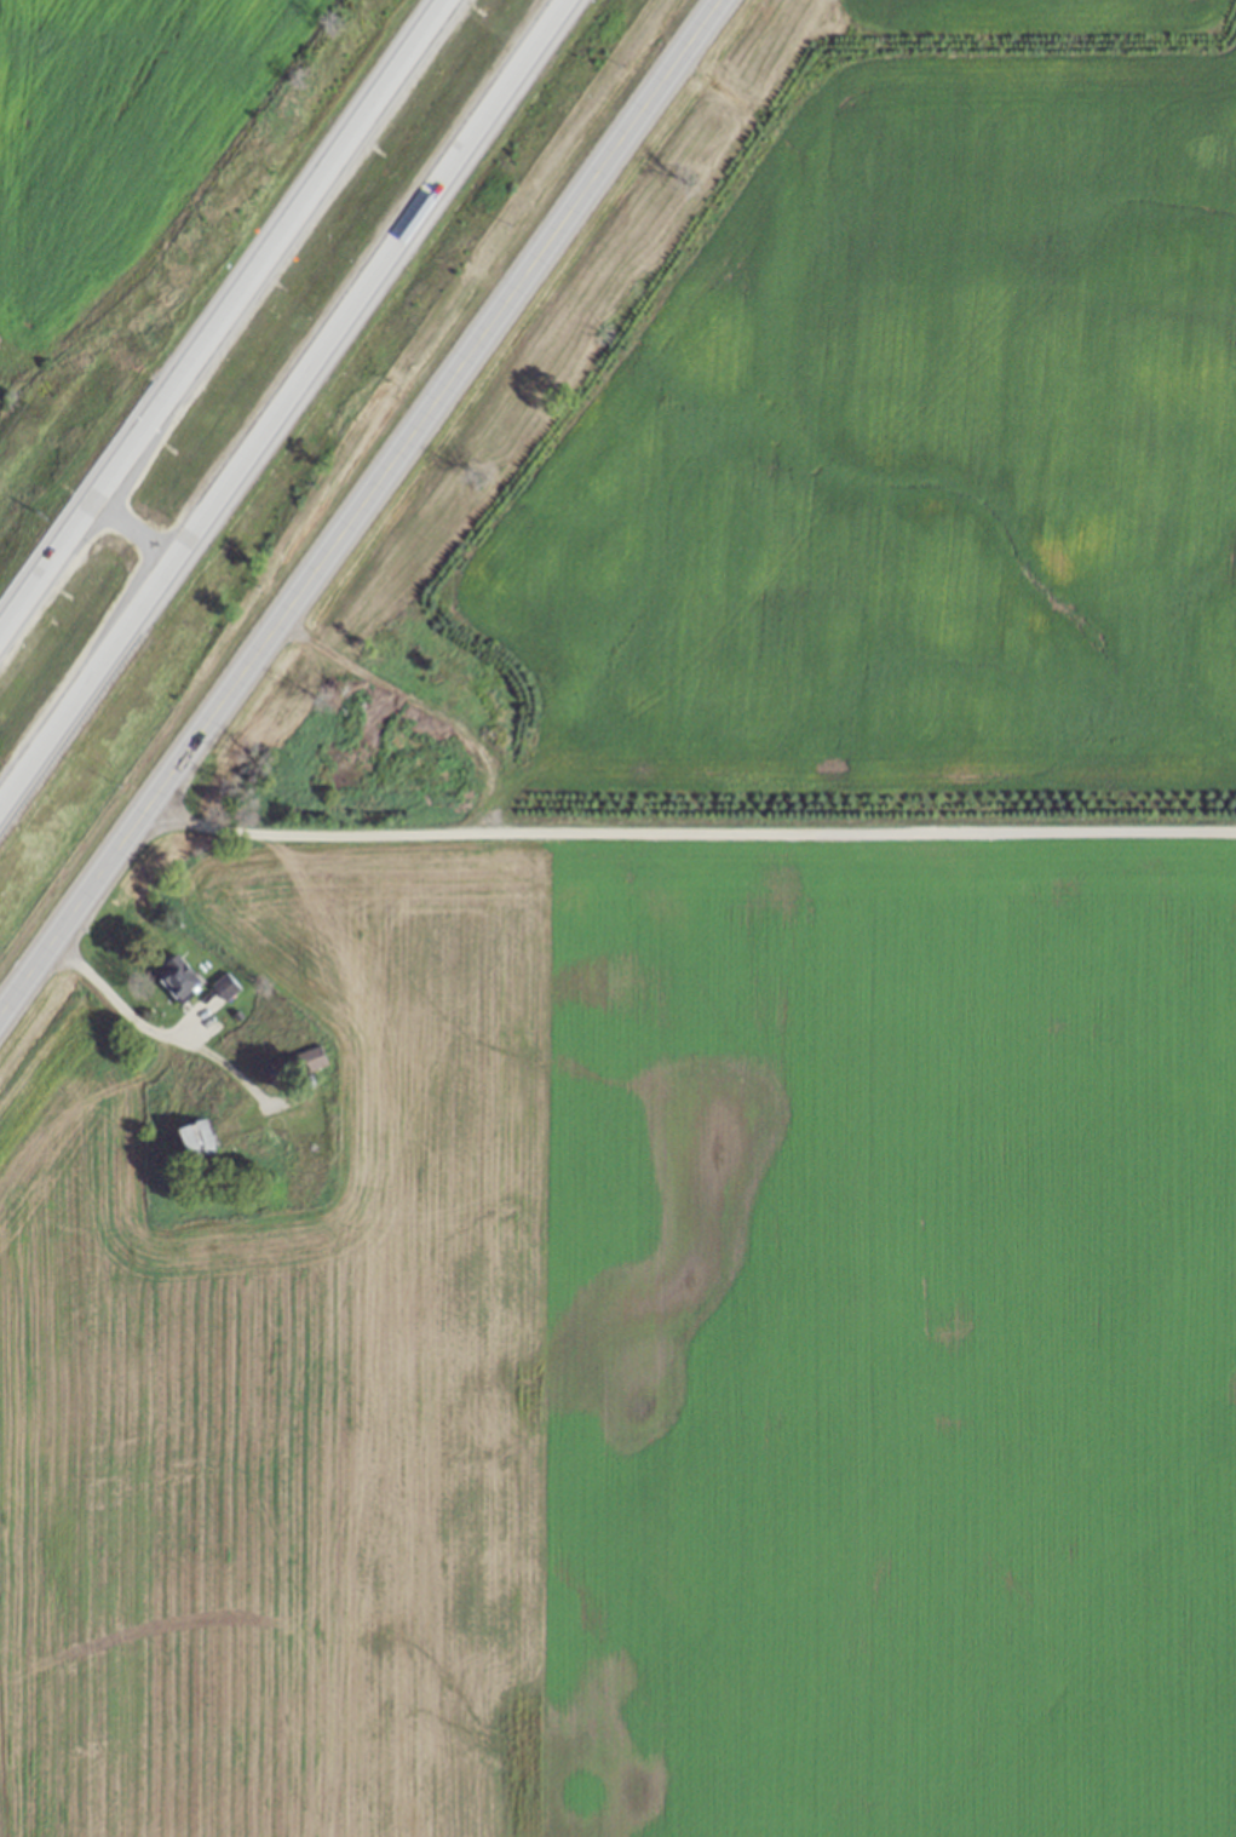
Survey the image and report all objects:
crop: (114, 144)
road: (212, 308)
road: (292, 414)
road: (362, 505)
road: (125, 543)
road: (690, 831)
building: (178, 977)
building: (224, 986)
road: (153, 1031)
building: (295, 1068)
building: (195, 1142)
crop: (643, 1355)

